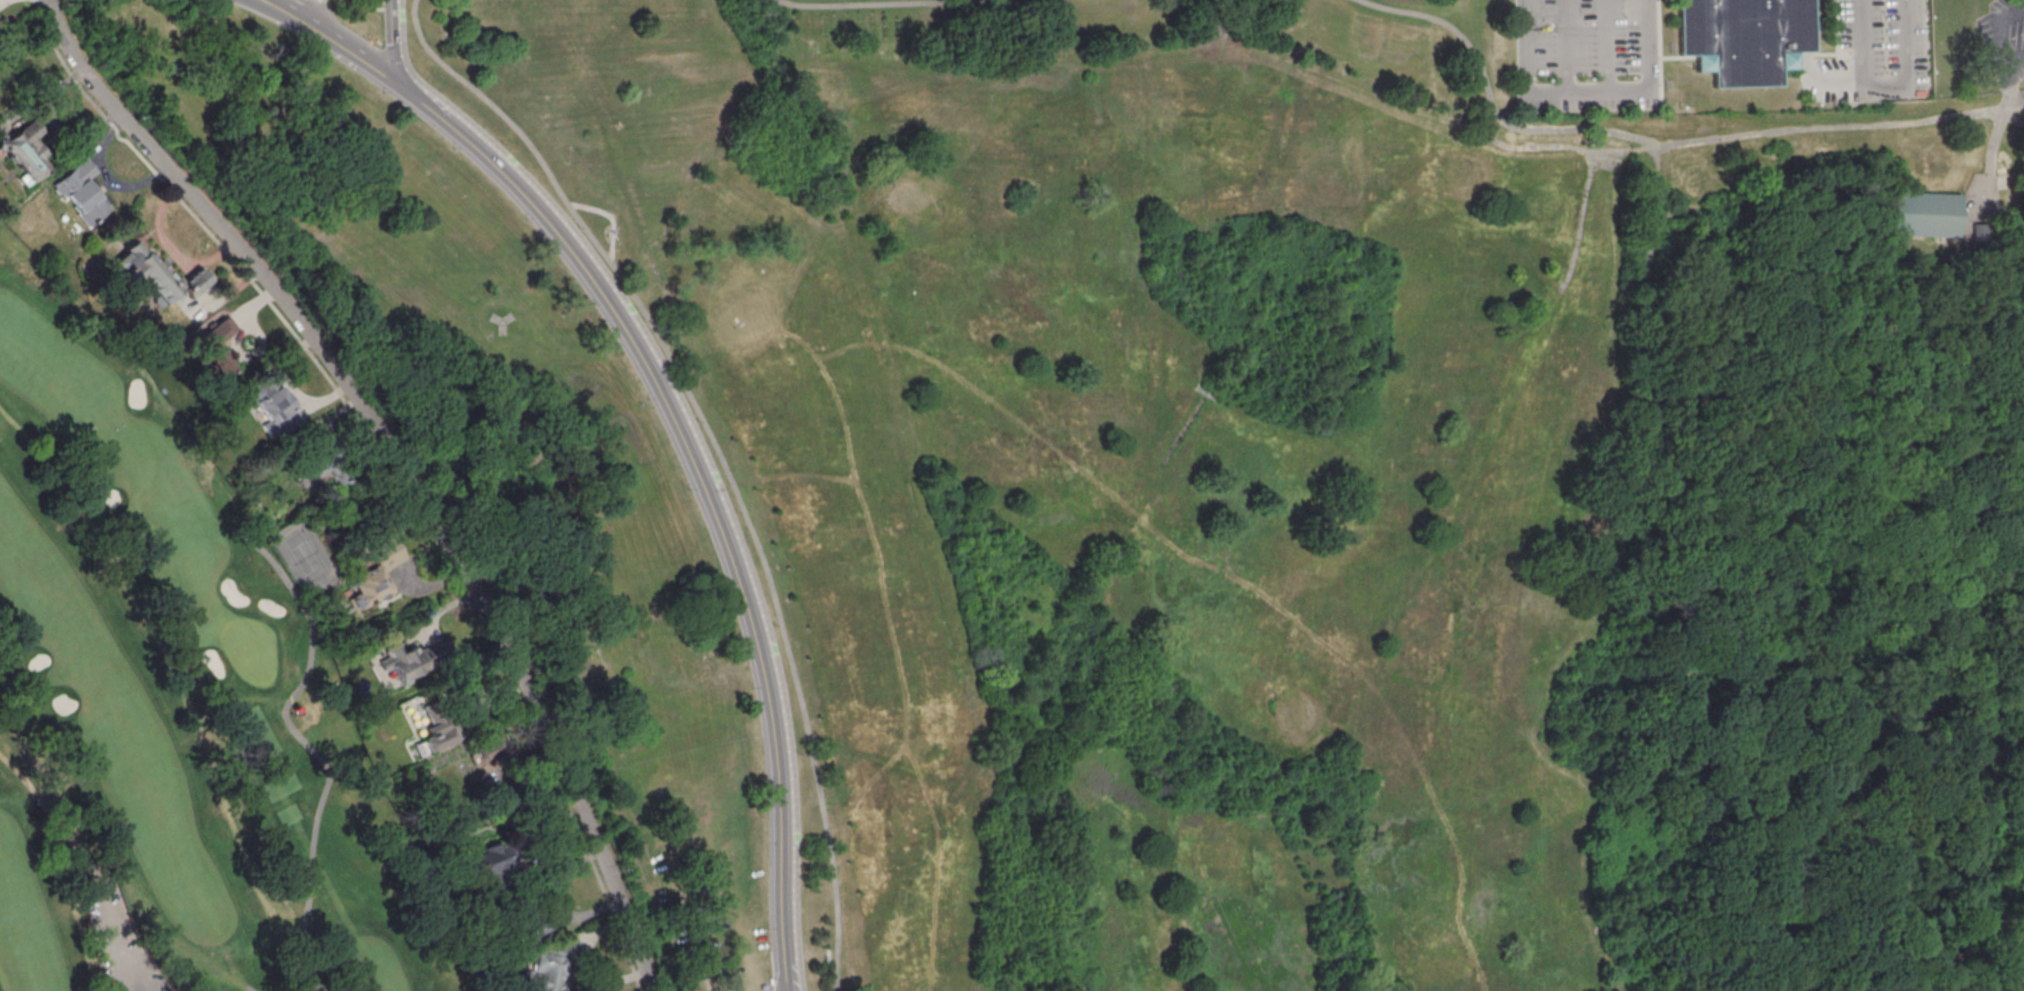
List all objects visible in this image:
road: (381, 4)
road: (875, 5)
road: (287, 18)
road: (302, 18)
road: (1836, 27)
road: (1999, 30)
building: (1743, 37)
parking lot: (2004, 40)
road: (392, 41)
road: (1864, 43)
road: (1608, 46)
road: (1566, 47)
road: (1659, 51)
parking lot: (1587, 53)
parking lot: (1874, 54)
road: (1831, 55)
road: (1677, 58)
road: (362, 59)
road: (2017, 63)
road: (1887, 85)
road: (1589, 93)
road: (2014, 116)
road: (1747, 137)
road: (145, 142)
road: (1991, 145)
building: (26, 152)
building: (1616, 162)
building: (82, 192)
building: (1923, 213)
road: (2013, 216)
road: (609, 217)
road: (1581, 223)
building: (1978, 236)
building: (159, 274)
building: (219, 347)
road: (1199, 389)
road: (1652, 389)
road: (1207, 393)
road: (1215, 398)
building: (279, 410)
road: (701, 448)
road: (707, 448)
road: (718, 452)
building: (318, 458)
road: (385, 463)
park: (1204, 463)
road: (705, 486)
road: (1963, 493)
park: (1235, 494)
building: (377, 573)
road: (488, 614)
park: (252, 648)
building: (413, 659)
park: (174, 707)
building: (438, 732)
building: (490, 857)
road: (109, 925)
parking lot: (116, 942)
park: (2017, 951)
building: (548, 972)
road: (134, 975)
road: (119, 976)

